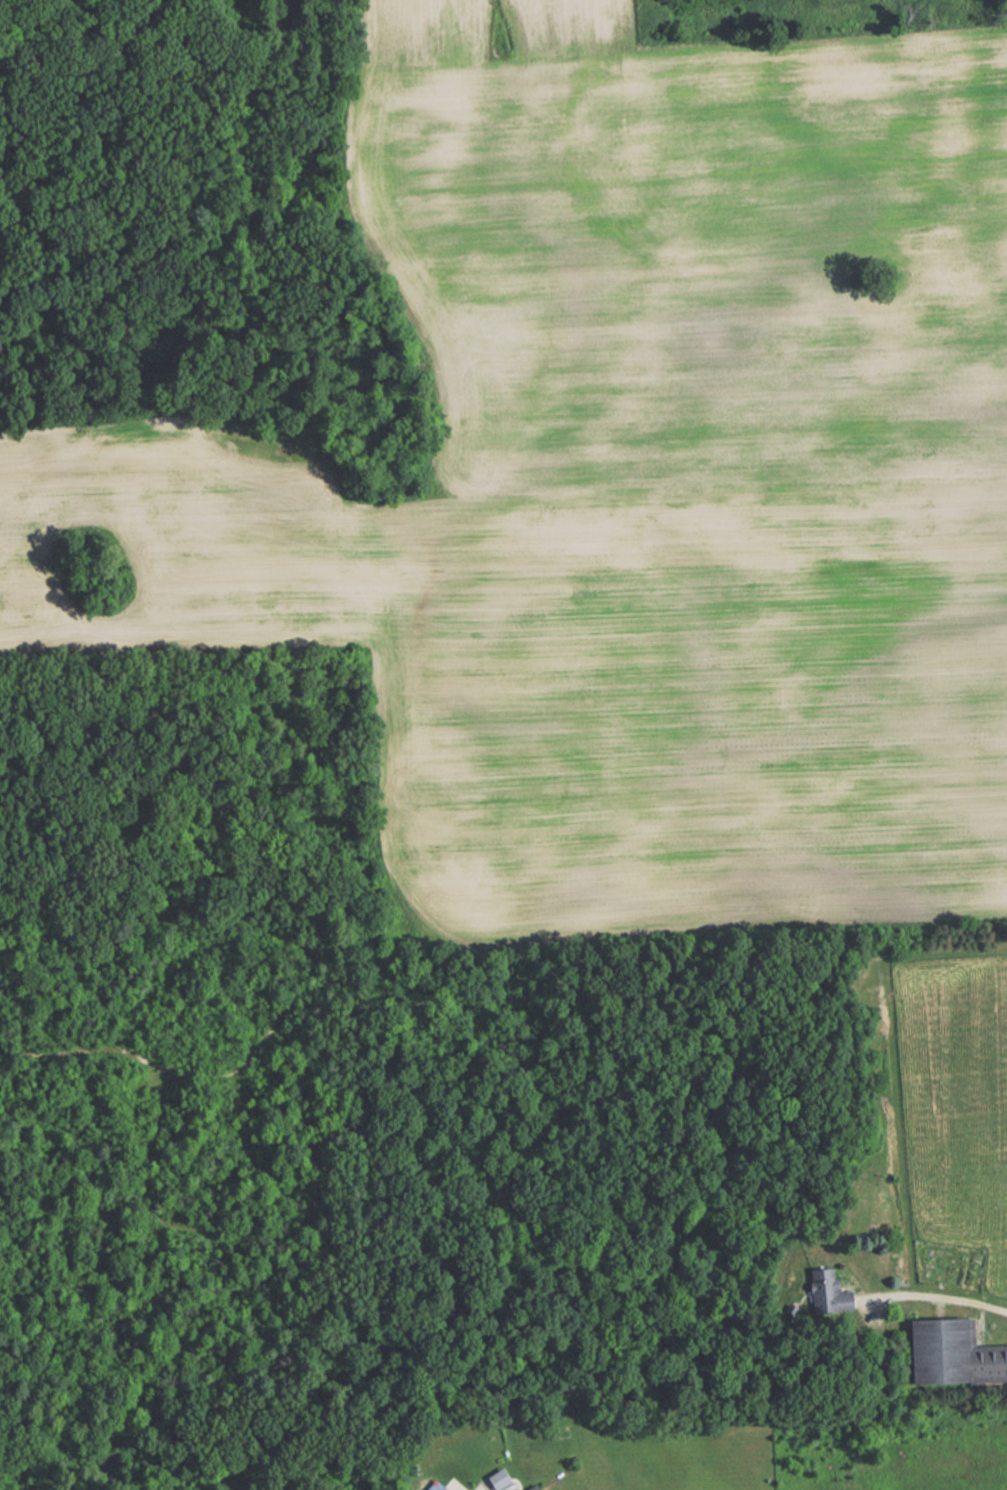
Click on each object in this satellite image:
road: (939, 1293)
building: (438, 1487)
building: (519, 1487)

